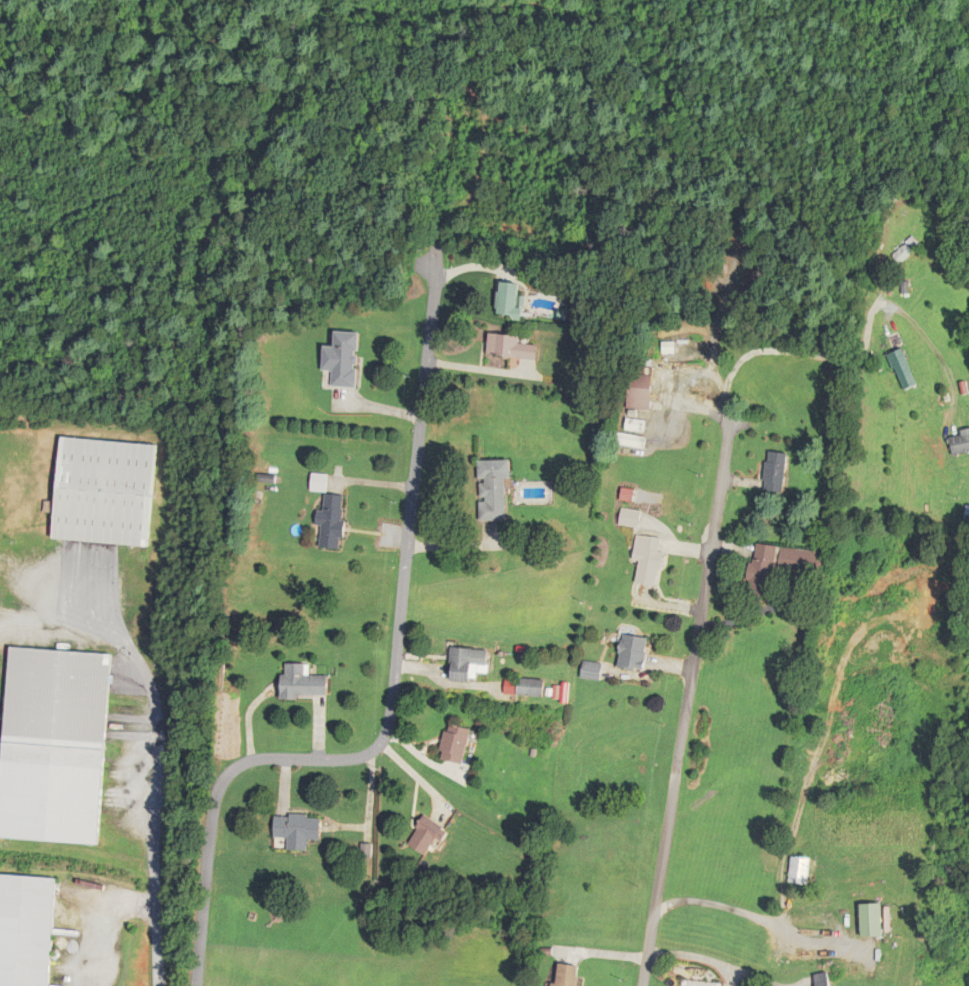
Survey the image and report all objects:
road: (321, 186)
building: (509, 302)
building: (511, 350)
building: (343, 361)
building: (904, 372)
building: (641, 395)
building: (630, 443)
building: (960, 447)
building: (777, 475)
building: (104, 493)
building: (494, 493)
building: (631, 520)
building: (332, 523)
building: (648, 561)
building: (802, 564)
building: (764, 573)
road: (710, 577)
road: (402, 596)
building: (634, 655)
building: (462, 667)
building: (593, 673)
building: (302, 685)
building: (532, 690)
building: (54, 747)
building: (456, 747)
road: (154, 789)
building: (298, 830)
building: (428, 835)
building: (800, 871)
road: (205, 888)
building: (873, 920)
road: (751, 921)
building: (26, 930)
building: (567, 975)
building: (824, 980)

